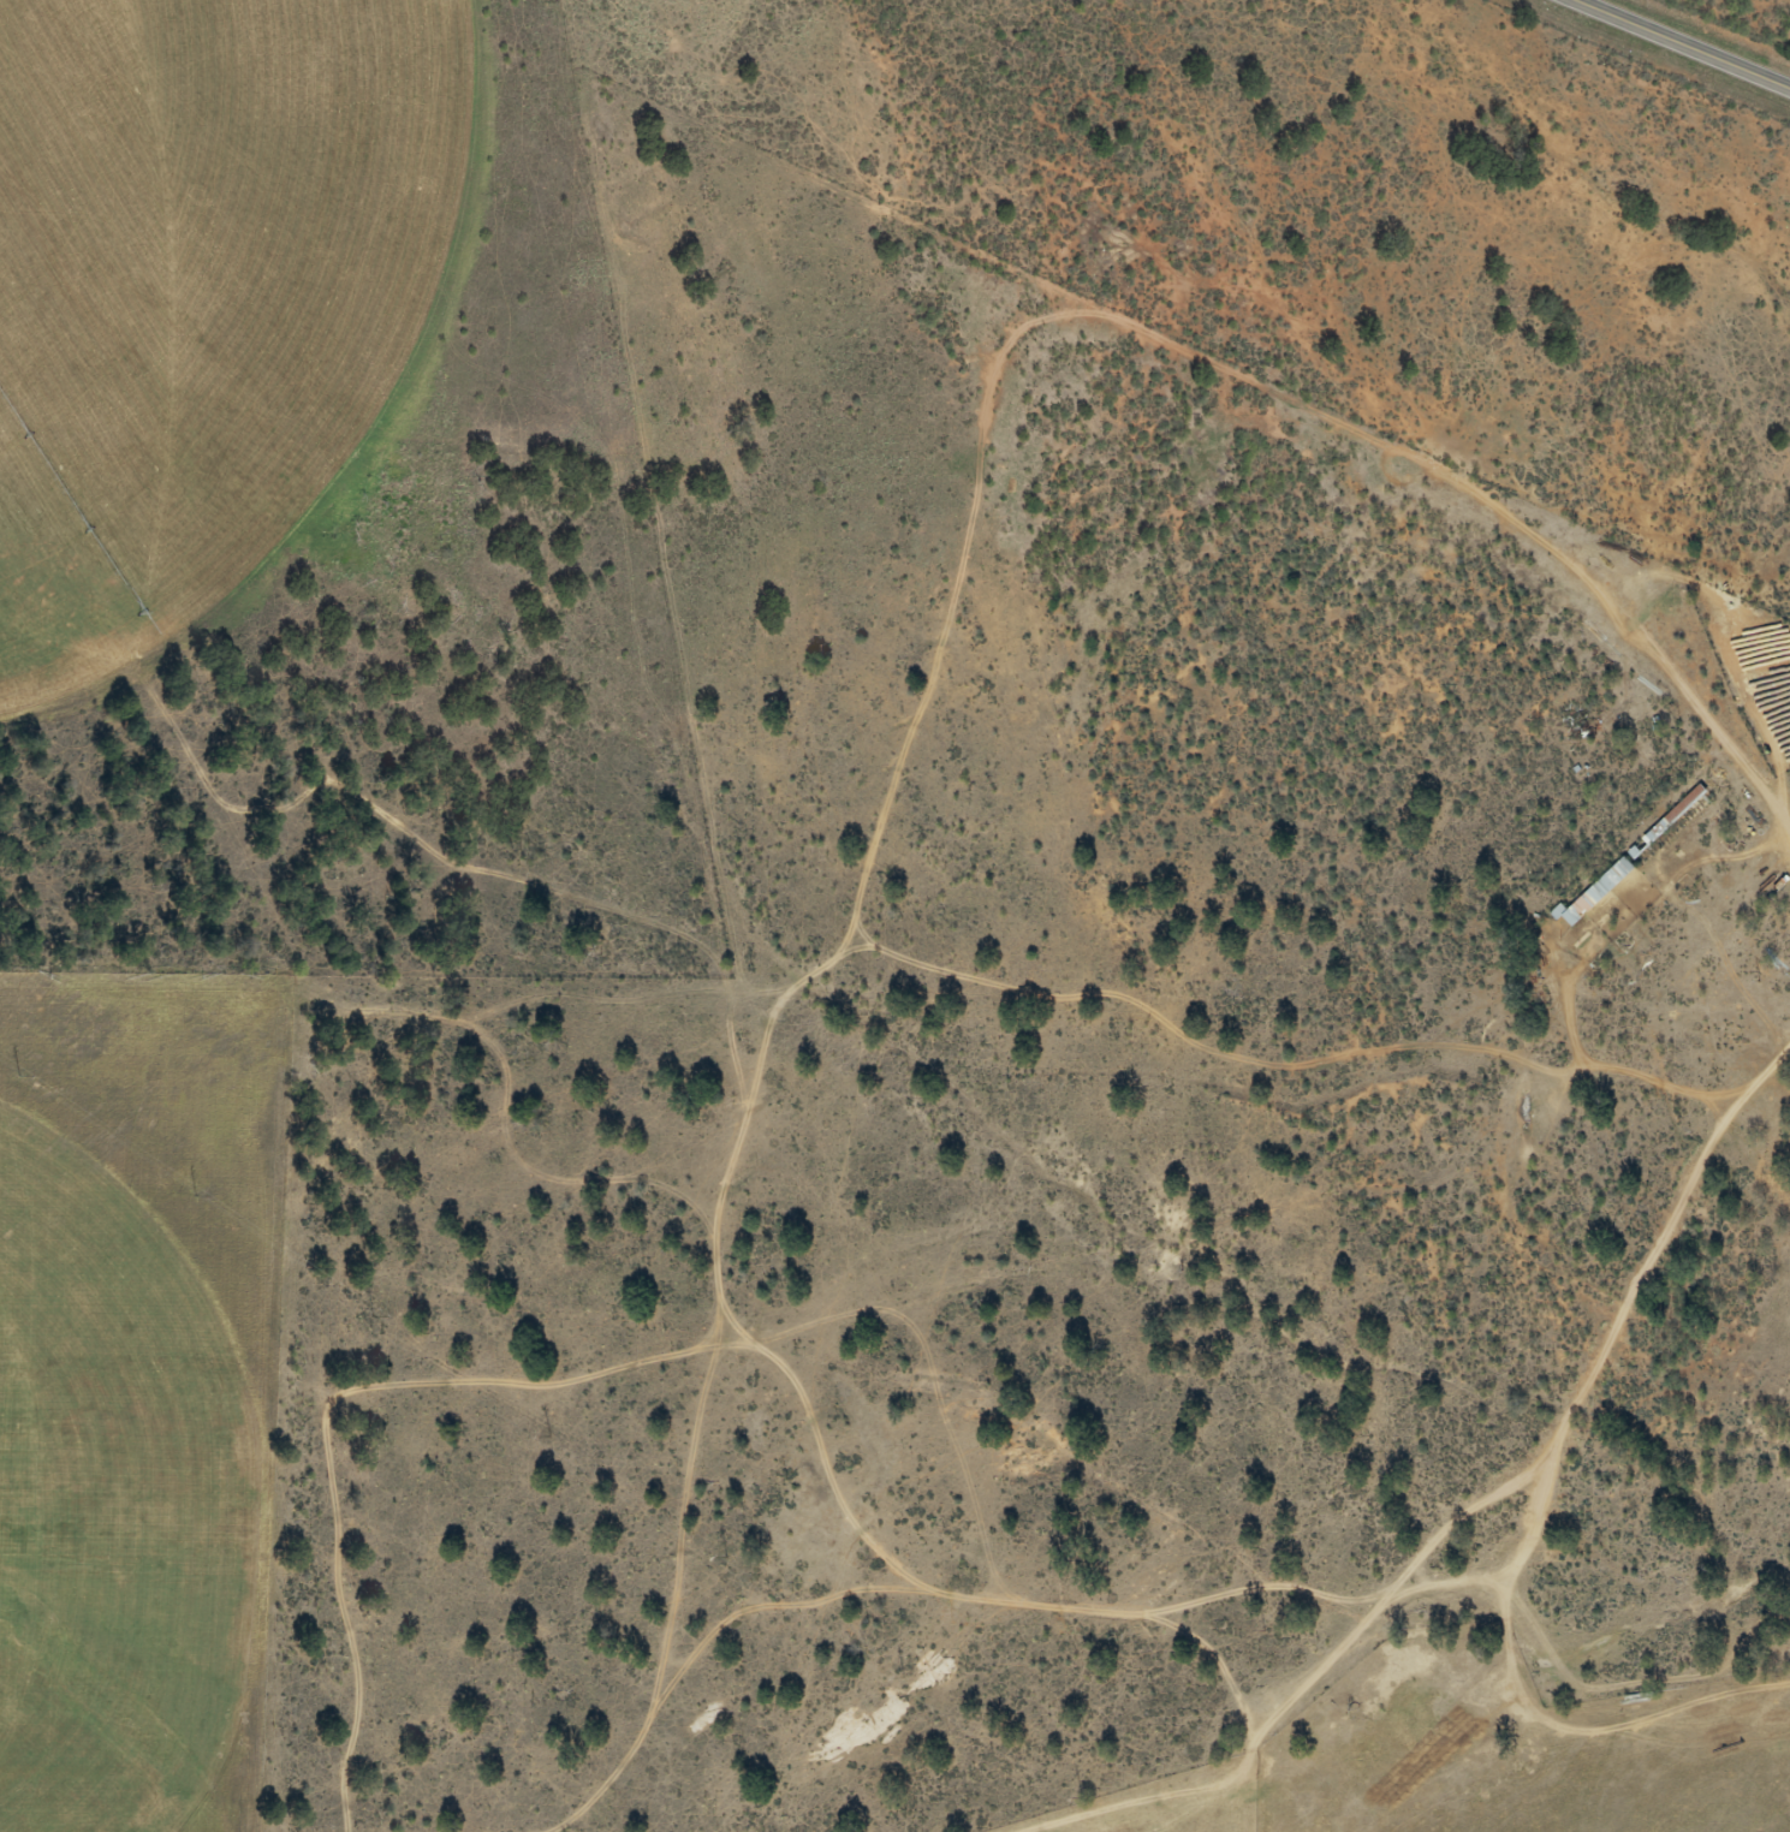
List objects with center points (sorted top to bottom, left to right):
road: (1682, 43)
crop: (201, 287)
building: (1671, 817)
building: (1595, 892)

